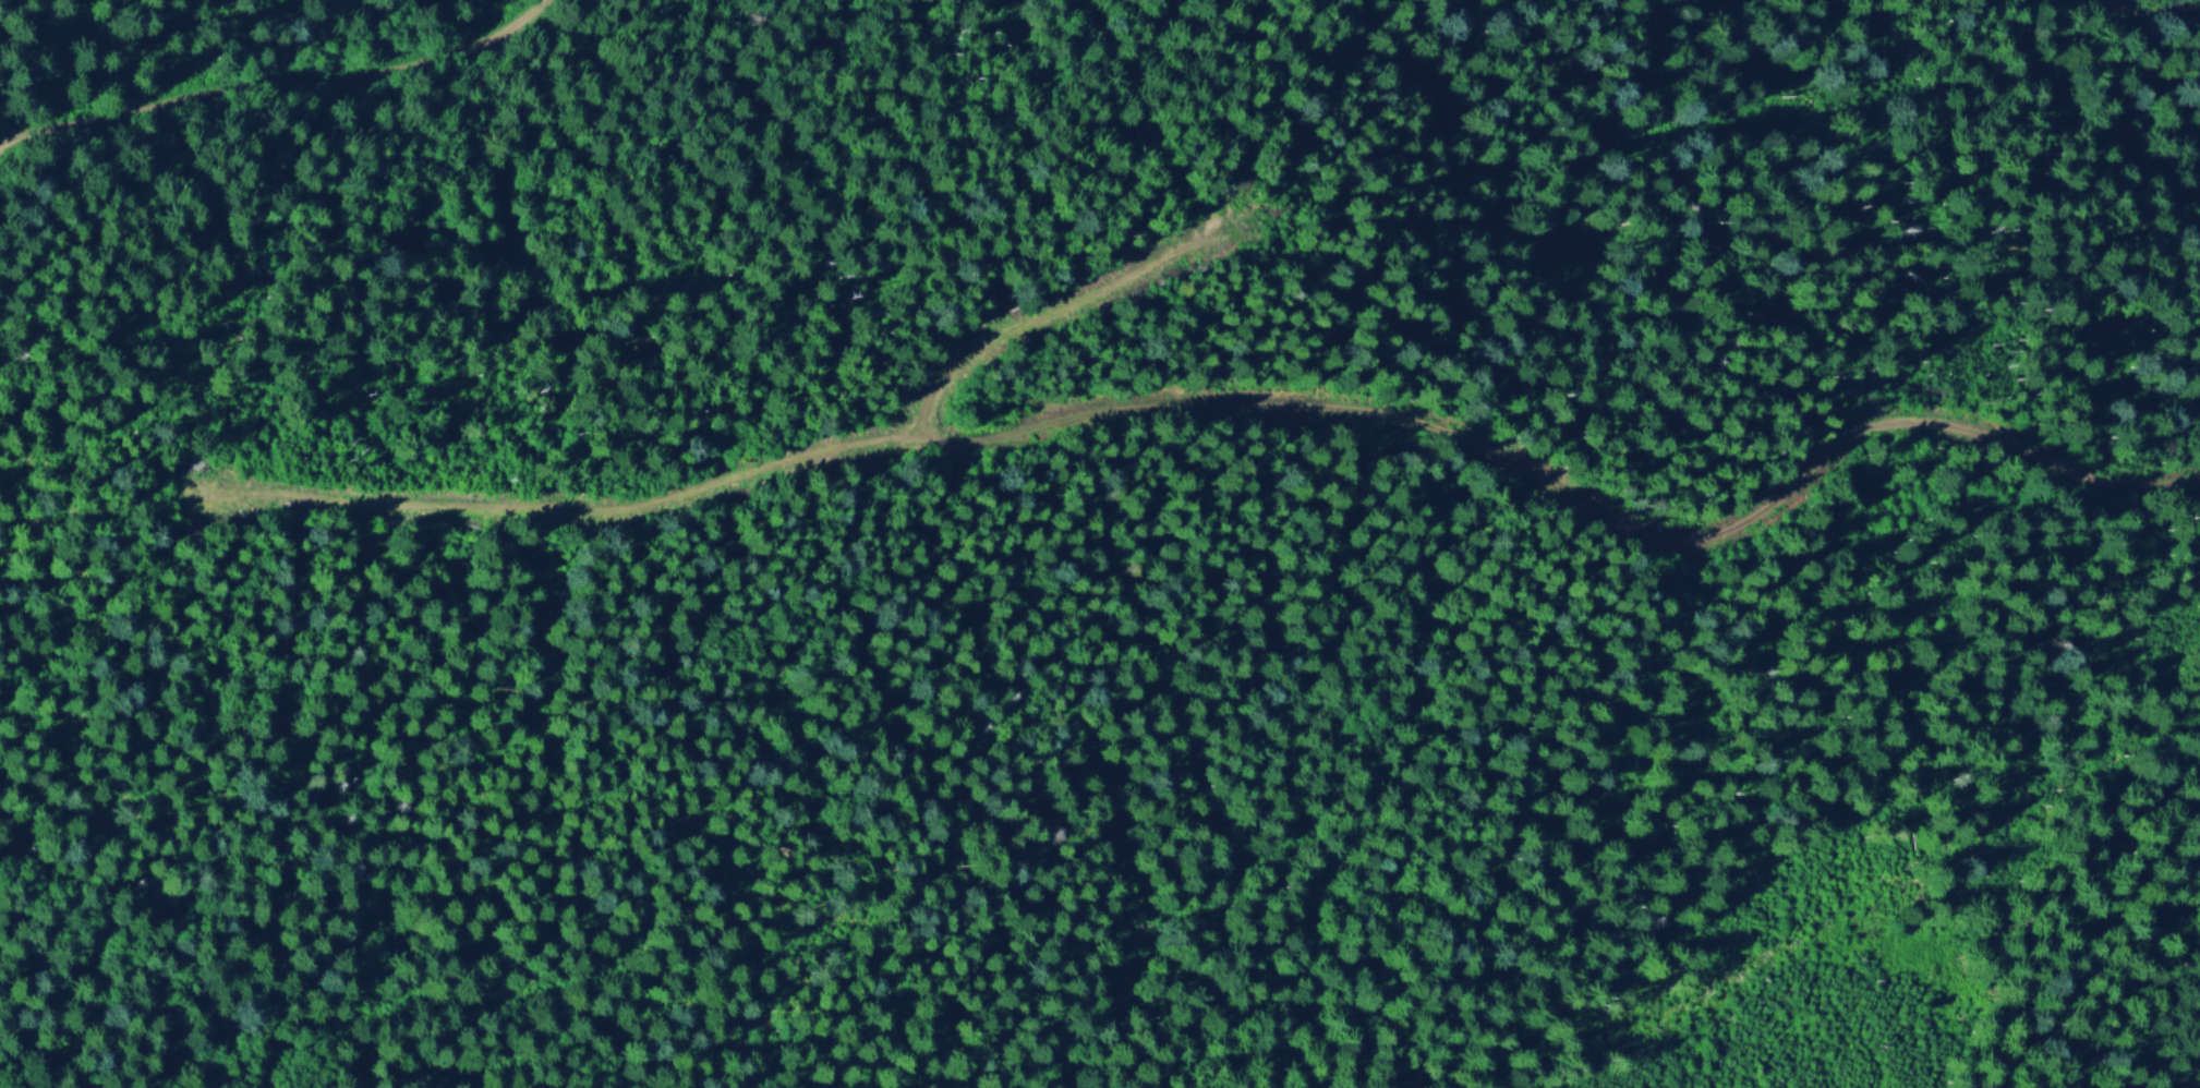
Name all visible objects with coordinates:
road: (2171, 4)
road: (292, 88)
road: (1401, 419)
road: (576, 504)

